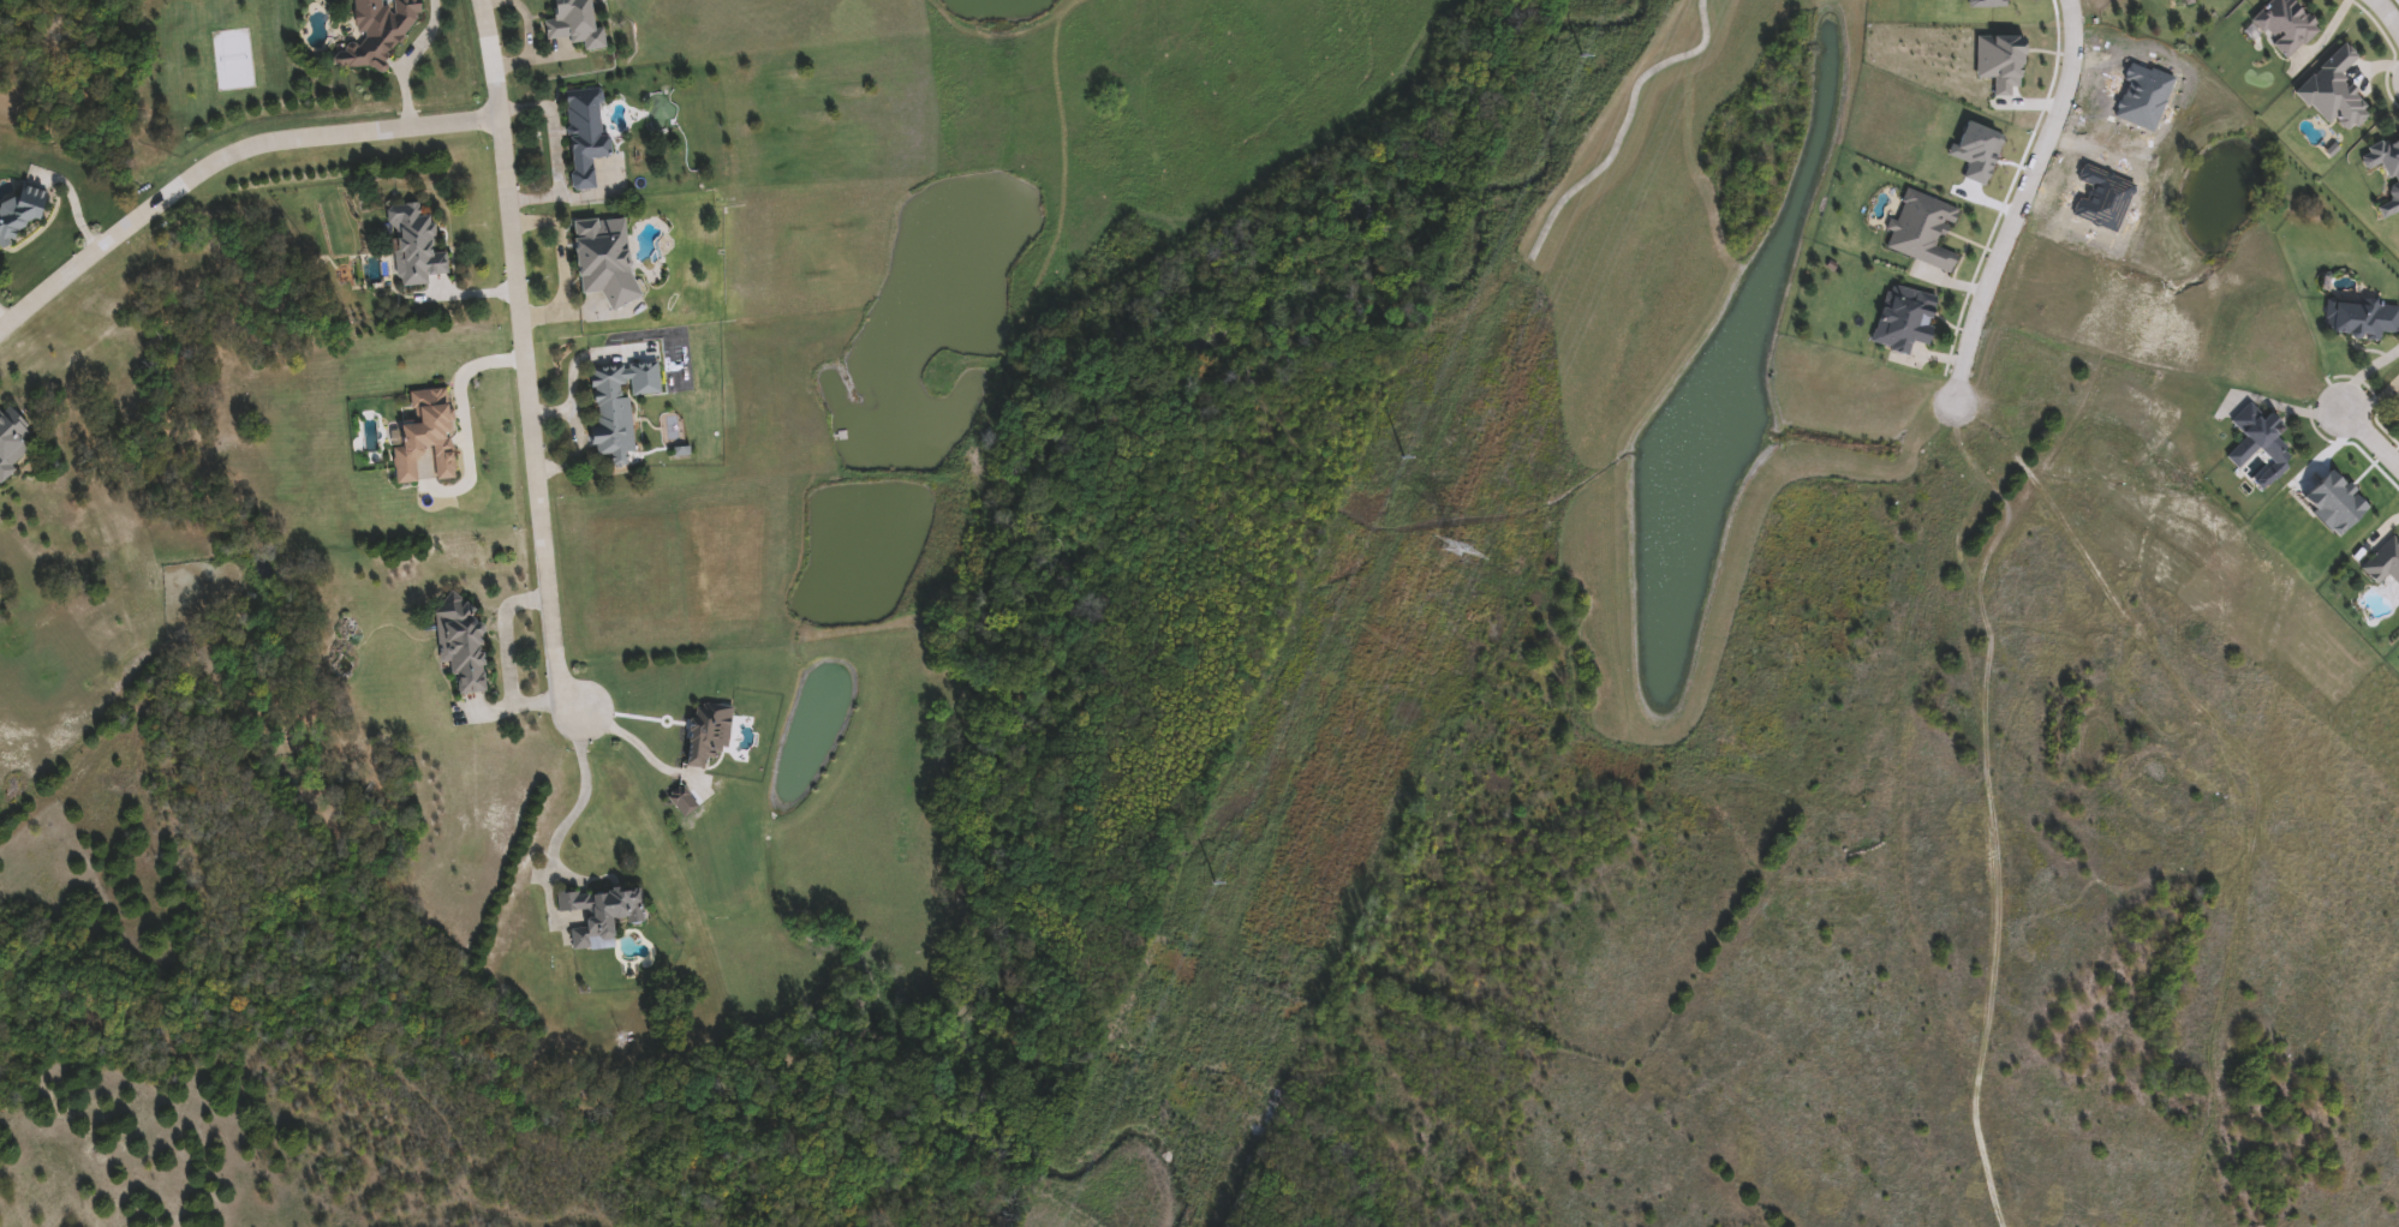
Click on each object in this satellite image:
road: (2386, 17)
building: (578, 25)
building: (2284, 25)
building: (376, 32)
road: (487, 56)
road: (410, 59)
building: (2332, 91)
building: (587, 136)
road: (560, 148)
road: (222, 155)
building: (2386, 173)
road: (2017, 204)
building: (20, 214)
building: (416, 246)
building: (608, 262)
road: (563, 267)
road: (4, 313)
building: (2359, 318)
building: (1900, 319)
road: (461, 411)
road: (550, 412)
building: (615, 413)
road: (572, 415)
road: (531, 420)
road: (2373, 435)
building: (428, 438)
building: (14, 442)
building: (2257, 443)
power tower: (1401, 469)
power tower: (1445, 545)
building: (464, 644)
road: (509, 668)
building: (711, 736)
road: (641, 750)
road: (584, 798)
power tower: (1215, 888)
building: (602, 916)
building: (2182, 1097)

